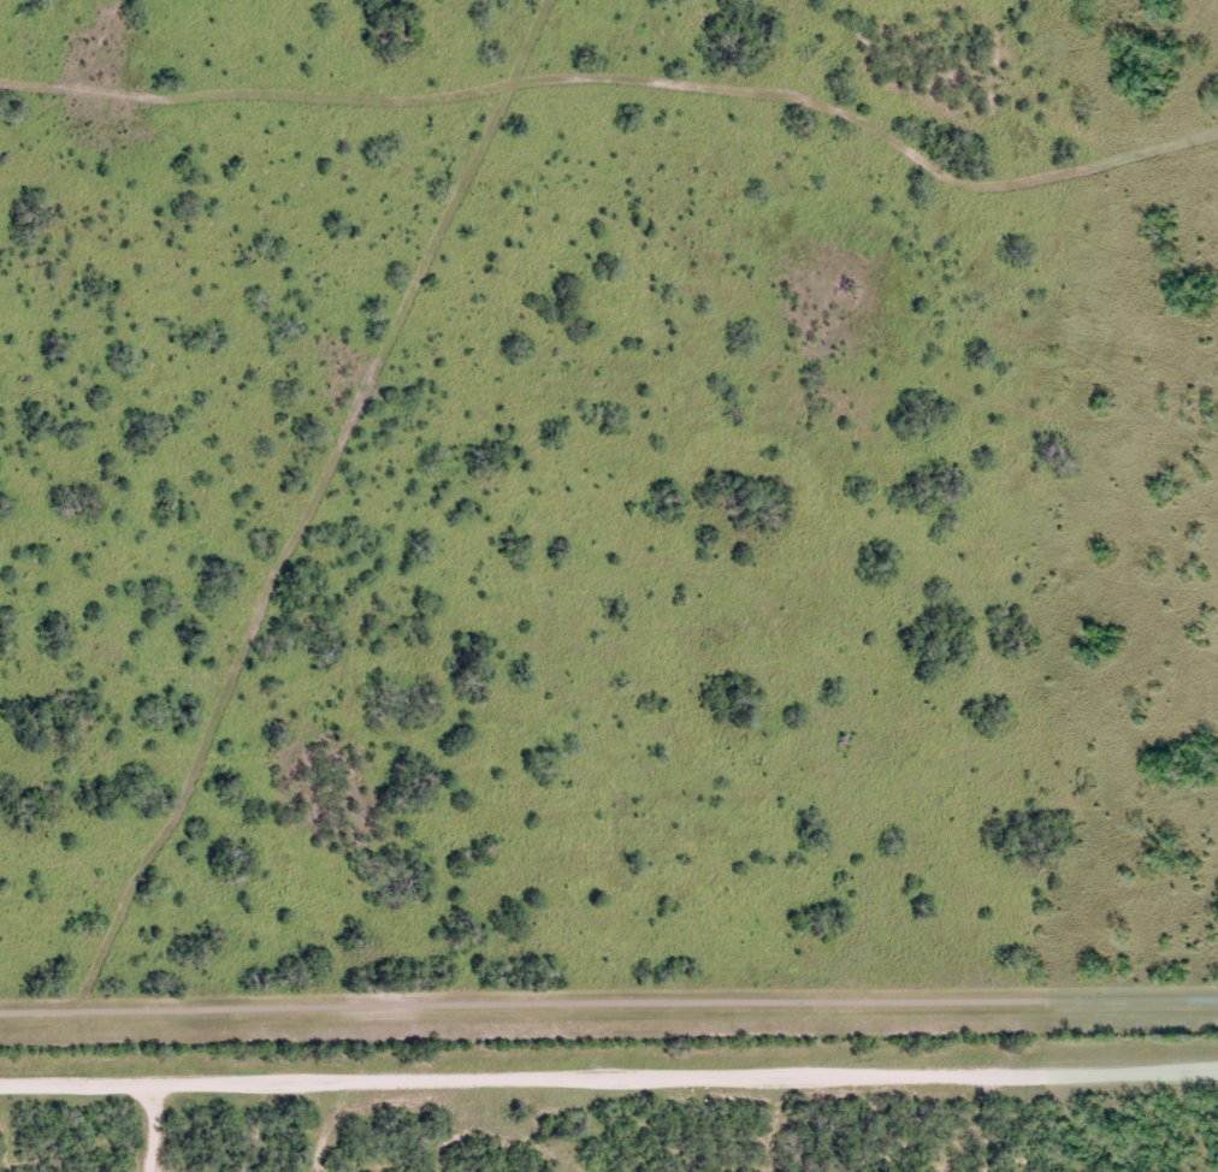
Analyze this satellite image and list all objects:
road: (609, 1024)
road: (609, 1079)

